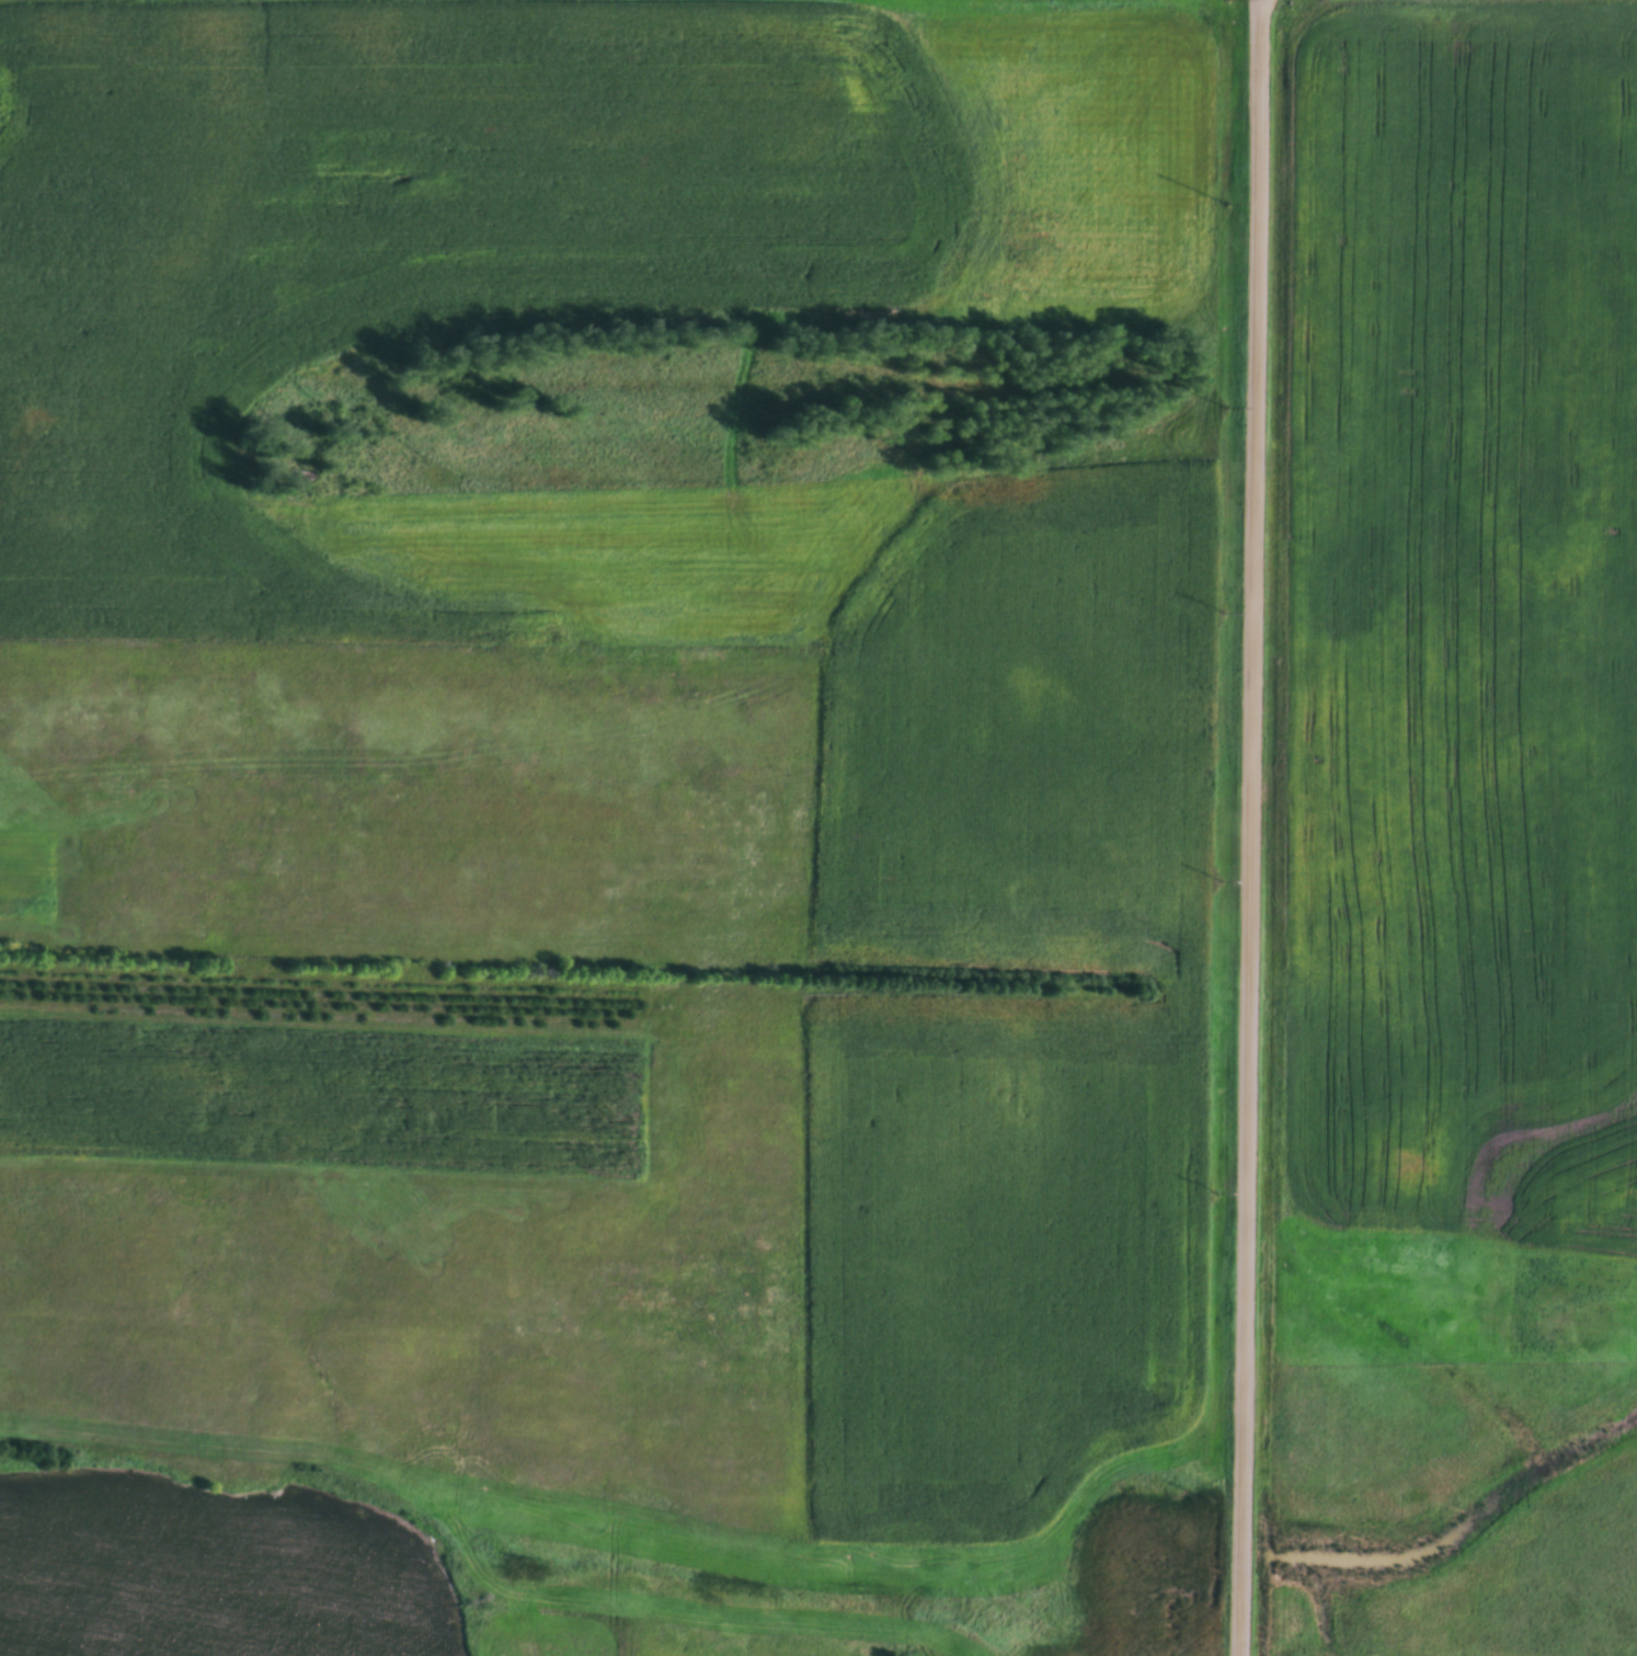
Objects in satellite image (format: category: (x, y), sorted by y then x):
road: (1251, 827)

